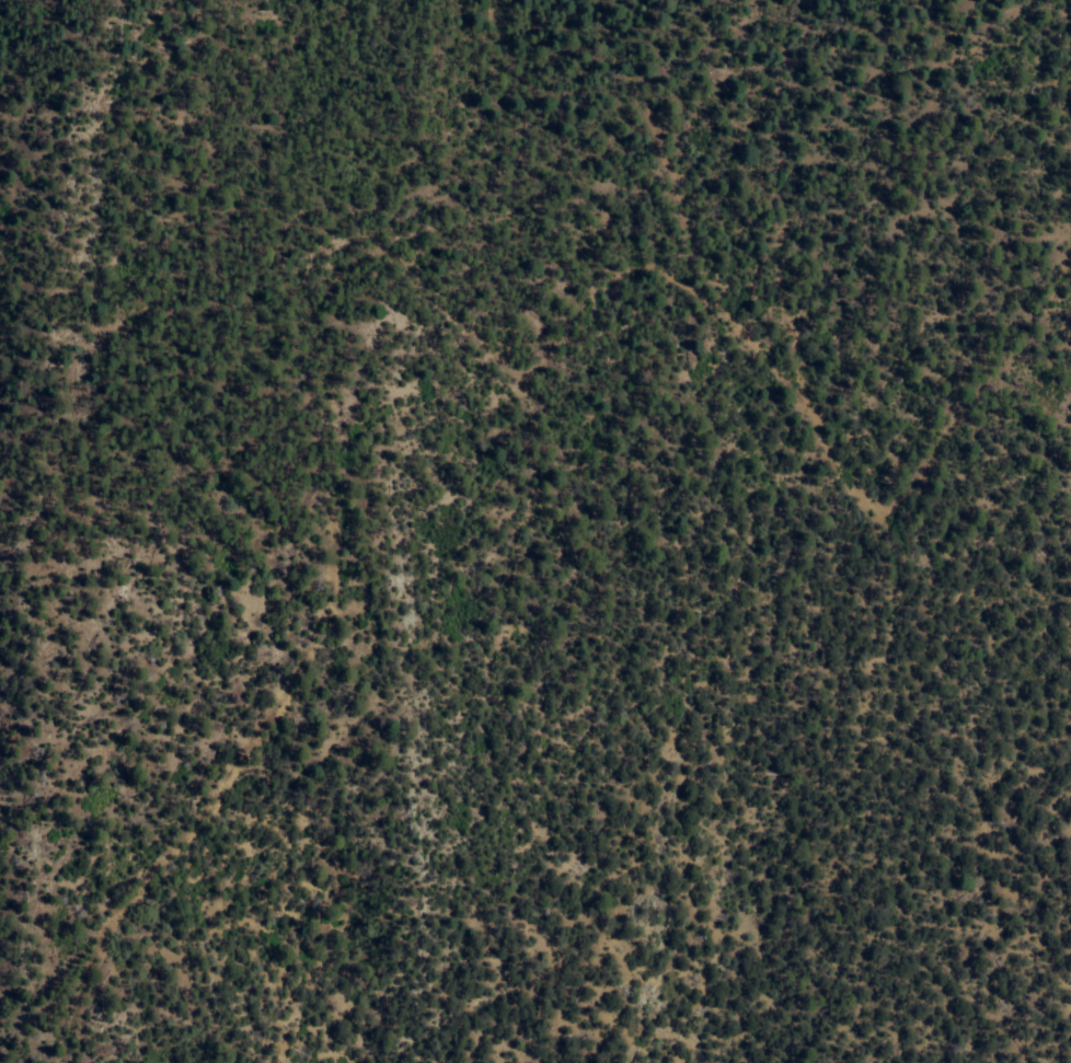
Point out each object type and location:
road: (435, 301)

